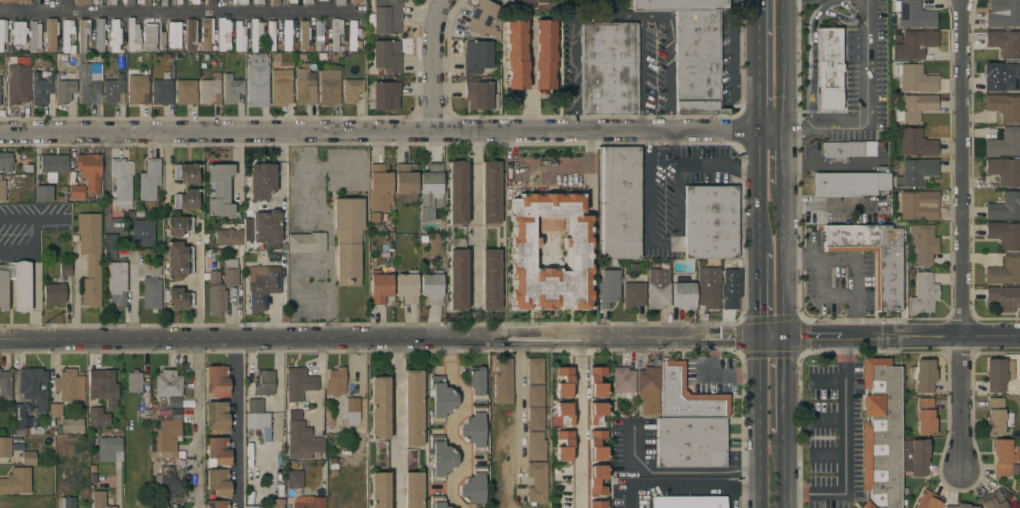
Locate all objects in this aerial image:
building: (227, 0)
building: (319, 0)
building: (12, 1)
building: (82, 1)
building: (178, 1)
building: (194, 1)
building: (241, 1)
building: (258, 1)
building: (275, 1)
building: (292, 1)
building: (307, 1)
building: (356, 1)
building: (112, 2)
building: (129, 2)
building: (143, 2)
building: (209, 2)
building: (340, 2)
building: (163, 3)
building: (528, 3)
building: (553, 5)
building: (679, 5)
road: (180, 13)
building: (1003, 13)
building: (913, 14)
building: (385, 18)
building: (482, 18)
road: (610, 19)
building: (2, 33)
building: (18, 33)
building: (207, 33)
building: (337, 33)
building: (174, 34)
building: (191, 34)
building: (223, 34)
building: (271, 35)
building: (287, 35)
building: (304, 35)
building: (353, 35)
building: (34, 36)
building: (51, 36)
building: (67, 36)
building: (100, 36)
building: (115, 36)
building: (133, 36)
building: (257, 36)
building: (322, 36)
building: (239, 37)
building: (149, 38)
building: (83, 39)
building: (162, 39)
building: (1004, 43)
building: (914, 44)
building: (516, 54)
building: (544, 54)
building: (386, 56)
building: (476, 57)
building: (697, 63)
road: (432, 64)
road: (668, 64)
road: (757, 66)
road: (782, 66)
building: (608, 69)
building: (829, 69)
building: (0, 77)
road: (531, 79)
building: (916, 79)
building: (1003, 79)
building: (281, 80)
building: (18, 81)
building: (257, 81)
building: (89, 83)
building: (305, 86)
building: (329, 87)
building: (40, 88)
building: (231, 88)
building: (137, 89)
building: (66, 90)
building: (114, 90)
building: (210, 90)
building: (351, 90)
building: (161, 92)
building: (186, 92)
building: (386, 96)
building: (480, 96)
road: (867, 106)
building: (1004, 107)
building: (914, 108)
road: (713, 117)
road: (390, 132)
building: (916, 143)
building: (1004, 143)
road: (674, 149)
building: (842, 150)
building: (620, 157)
road: (782, 159)
building: (5, 162)
building: (53, 166)
road: (550, 166)
building: (90, 171)
building: (1004, 171)
building: (916, 172)
building: (186, 173)
road: (675, 174)
building: (149, 180)
building: (262, 181)
building: (404, 181)
building: (121, 182)
building: (849, 184)
road: (105, 185)
building: (621, 185)
building: (380, 187)
road: (647, 188)
building: (2, 190)
building: (220, 190)
building: (430, 191)
building: (76, 192)
building: (490, 192)
building: (457, 193)
building: (44, 194)
road: (757, 194)
building: (186, 199)
building: (919, 205)
building: (1004, 207)
road: (472, 209)
building: (710, 223)
building: (178, 226)
building: (265, 227)
road: (328, 230)
building: (620, 231)
building: (143, 233)
building: (1004, 235)
road: (962, 236)
building: (229, 237)
building: (347, 240)
building: (109, 241)
building: (306, 243)
building: (923, 244)
building: (110, 254)
building: (90, 257)
building: (522, 257)
building: (179, 260)
road: (855, 261)
road: (782, 263)
building: (65, 269)
building: (155, 271)
building: (1004, 271)
building: (458, 280)
building: (490, 280)
building: (887, 281)
building: (117, 283)
building: (731, 283)
building: (15, 286)
building: (221, 286)
building: (261, 286)
building: (379, 286)
building: (407, 287)
building: (431, 287)
building: (608, 288)
building: (707, 288)
building: (658, 289)
building: (53, 294)
building: (151, 294)
building: (923, 294)
building: (633, 295)
building: (683, 295)
building: (1003, 297)
building: (179, 298)
road: (758, 298)
road: (894, 339)
road: (384, 342)
building: (535, 371)
road: (197, 373)
building: (997, 374)
building: (923, 375)
building: (622, 379)
building: (217, 381)
building: (336, 381)
building: (503, 381)
building: (134, 382)
building: (563, 382)
building: (596, 382)
building: (168, 383)
building: (264, 383)
building: (299, 384)
building: (476, 384)
building: (5, 385)
building: (69, 386)
building: (104, 386)
building: (34, 388)
building: (648, 389)
road: (782, 389)
building: (535, 395)
building: (686, 396)
building: (440, 400)
building: (174, 402)
building: (379, 407)
building: (413, 408)
building: (55, 410)
building: (350, 411)
building: (563, 413)
building: (596, 413)
building: (256, 415)
building: (996, 416)
building: (97, 417)
building: (217, 417)
building: (924, 417)
building: (535, 418)
road: (519, 419)
building: (22, 420)
road: (448, 423)
road: (579, 424)
road: (758, 424)
building: (72, 425)
road: (237, 425)
road: (394, 425)
building: (474, 429)
building: (880, 433)
building: (167, 435)
building: (301, 438)
building: (690, 442)
building: (596, 445)
building: (535, 446)
building: (563, 446)
building: (5, 447)
road: (844, 447)
building: (109, 449)
building: (217, 452)
building: (914, 457)
building: (1004, 457)
building: (28, 458)
building: (440, 459)
road: (783, 472)
road: (677, 474)
building: (294, 479)
building: (596, 480)
building: (16, 481)
building: (218, 481)
building: (537, 481)
building: (167, 482)
road: (671, 482)
road: (118, 485)
building: (473, 486)
building: (380, 490)
building: (413, 490)
road: (745, 490)
road: (733, 499)
building: (98, 500)
building: (928, 500)
building: (992, 500)
building: (67, 502)
building: (308, 502)
building: (437, 502)
building: (688, 502)
building: (273, 503)
building: (217, 504)
building: (597, 504)
building: (959, 506)
building: (172, 507)
building: (250, 507)

